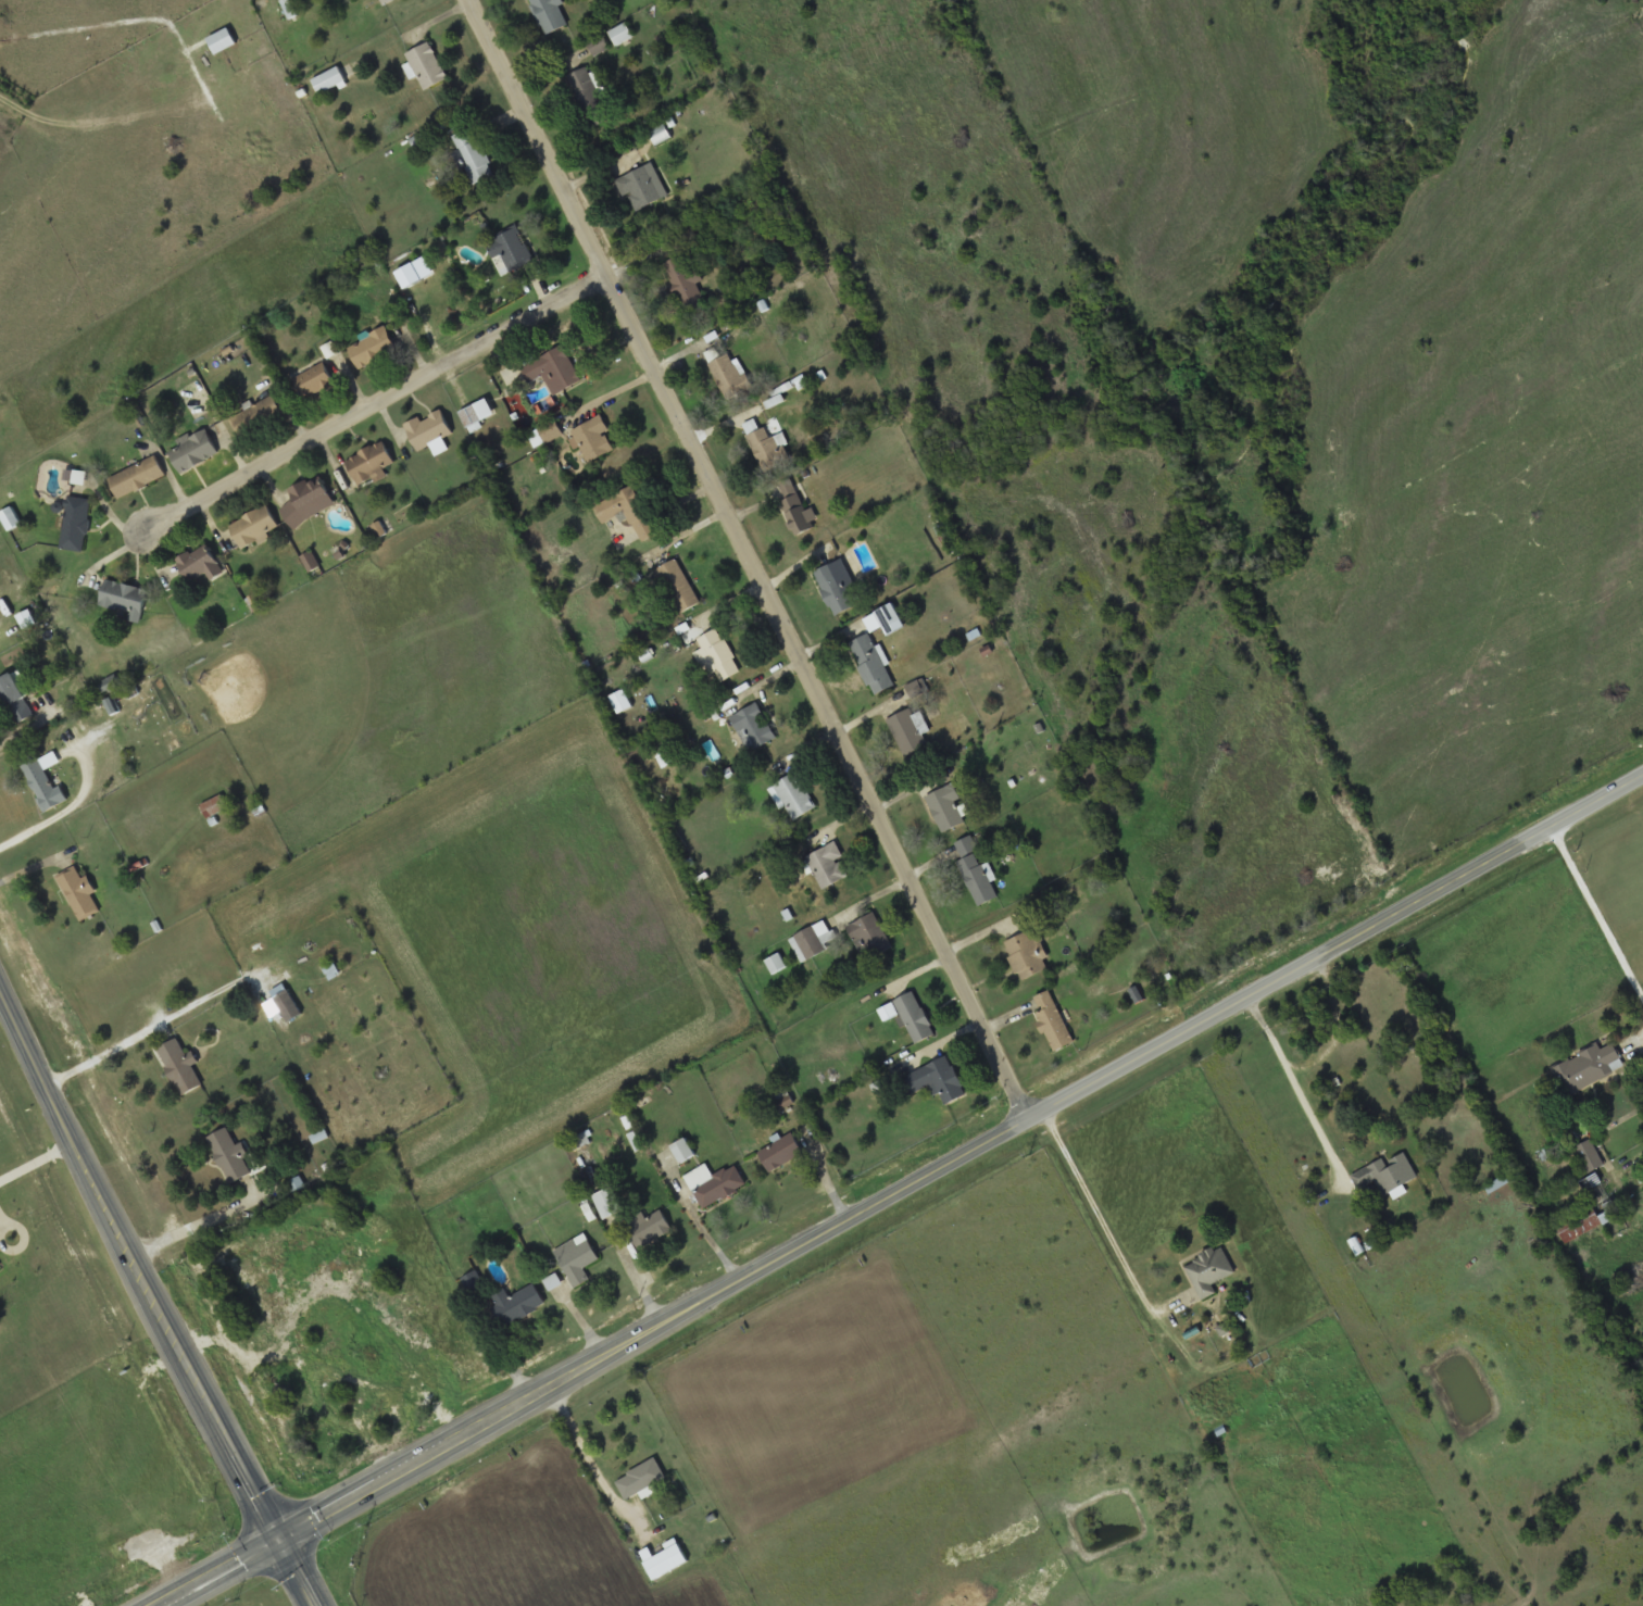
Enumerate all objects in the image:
building: (387, 2)
building: (549, 15)
building: (620, 35)
building: (222, 42)
building: (426, 66)
building: (334, 79)
building: (589, 99)
building: (660, 135)
building: (472, 156)
building: (641, 187)
building: (510, 249)
building: (685, 283)
building: (371, 349)
building: (553, 368)
building: (730, 376)
building: (315, 380)
road: (380, 407)
building: (478, 413)
building: (259, 415)
building: (429, 429)
building: (547, 432)
building: (592, 438)
building: (763, 446)
building: (193, 450)
building: (369, 464)
building: (137, 477)
building: (308, 500)
building: (797, 510)
building: (628, 512)
building: (10, 518)
building: (75, 524)
building: (254, 526)
road: (744, 560)
building: (200, 563)
building: (678, 586)
building: (836, 586)
building: (124, 598)
building: (716, 655)
building: (870, 664)
building: (15, 699)
building: (754, 725)
building: (908, 731)
building: (43, 786)
building: (793, 798)
building: (214, 806)
building: (946, 807)
building: (827, 866)
building: (976, 875)
building: (78, 893)
road: (1594, 915)
building: (869, 938)
building: (810, 942)
building: (1027, 955)
building: (776, 964)
building: (288, 1005)
building: (910, 1017)
building: (1051, 1020)
road: (1641, 1056)
building: (180, 1066)
building: (1589, 1067)
building: (936, 1081)
road: (1297, 1093)
building: (683, 1151)
building: (780, 1153)
building: (229, 1156)
building: (1590, 1156)
road: (39, 1172)
building: (1387, 1174)
building: (714, 1184)
road: (900, 1188)
building: (609, 1203)
building: (1589, 1210)
building: (648, 1229)
road: (1104, 1231)
building: (577, 1259)
building: (1208, 1271)
road: (154, 1302)
building: (516, 1305)
road: (588, 1461)
building: (640, 1479)
traffic signals: (276, 1540)

